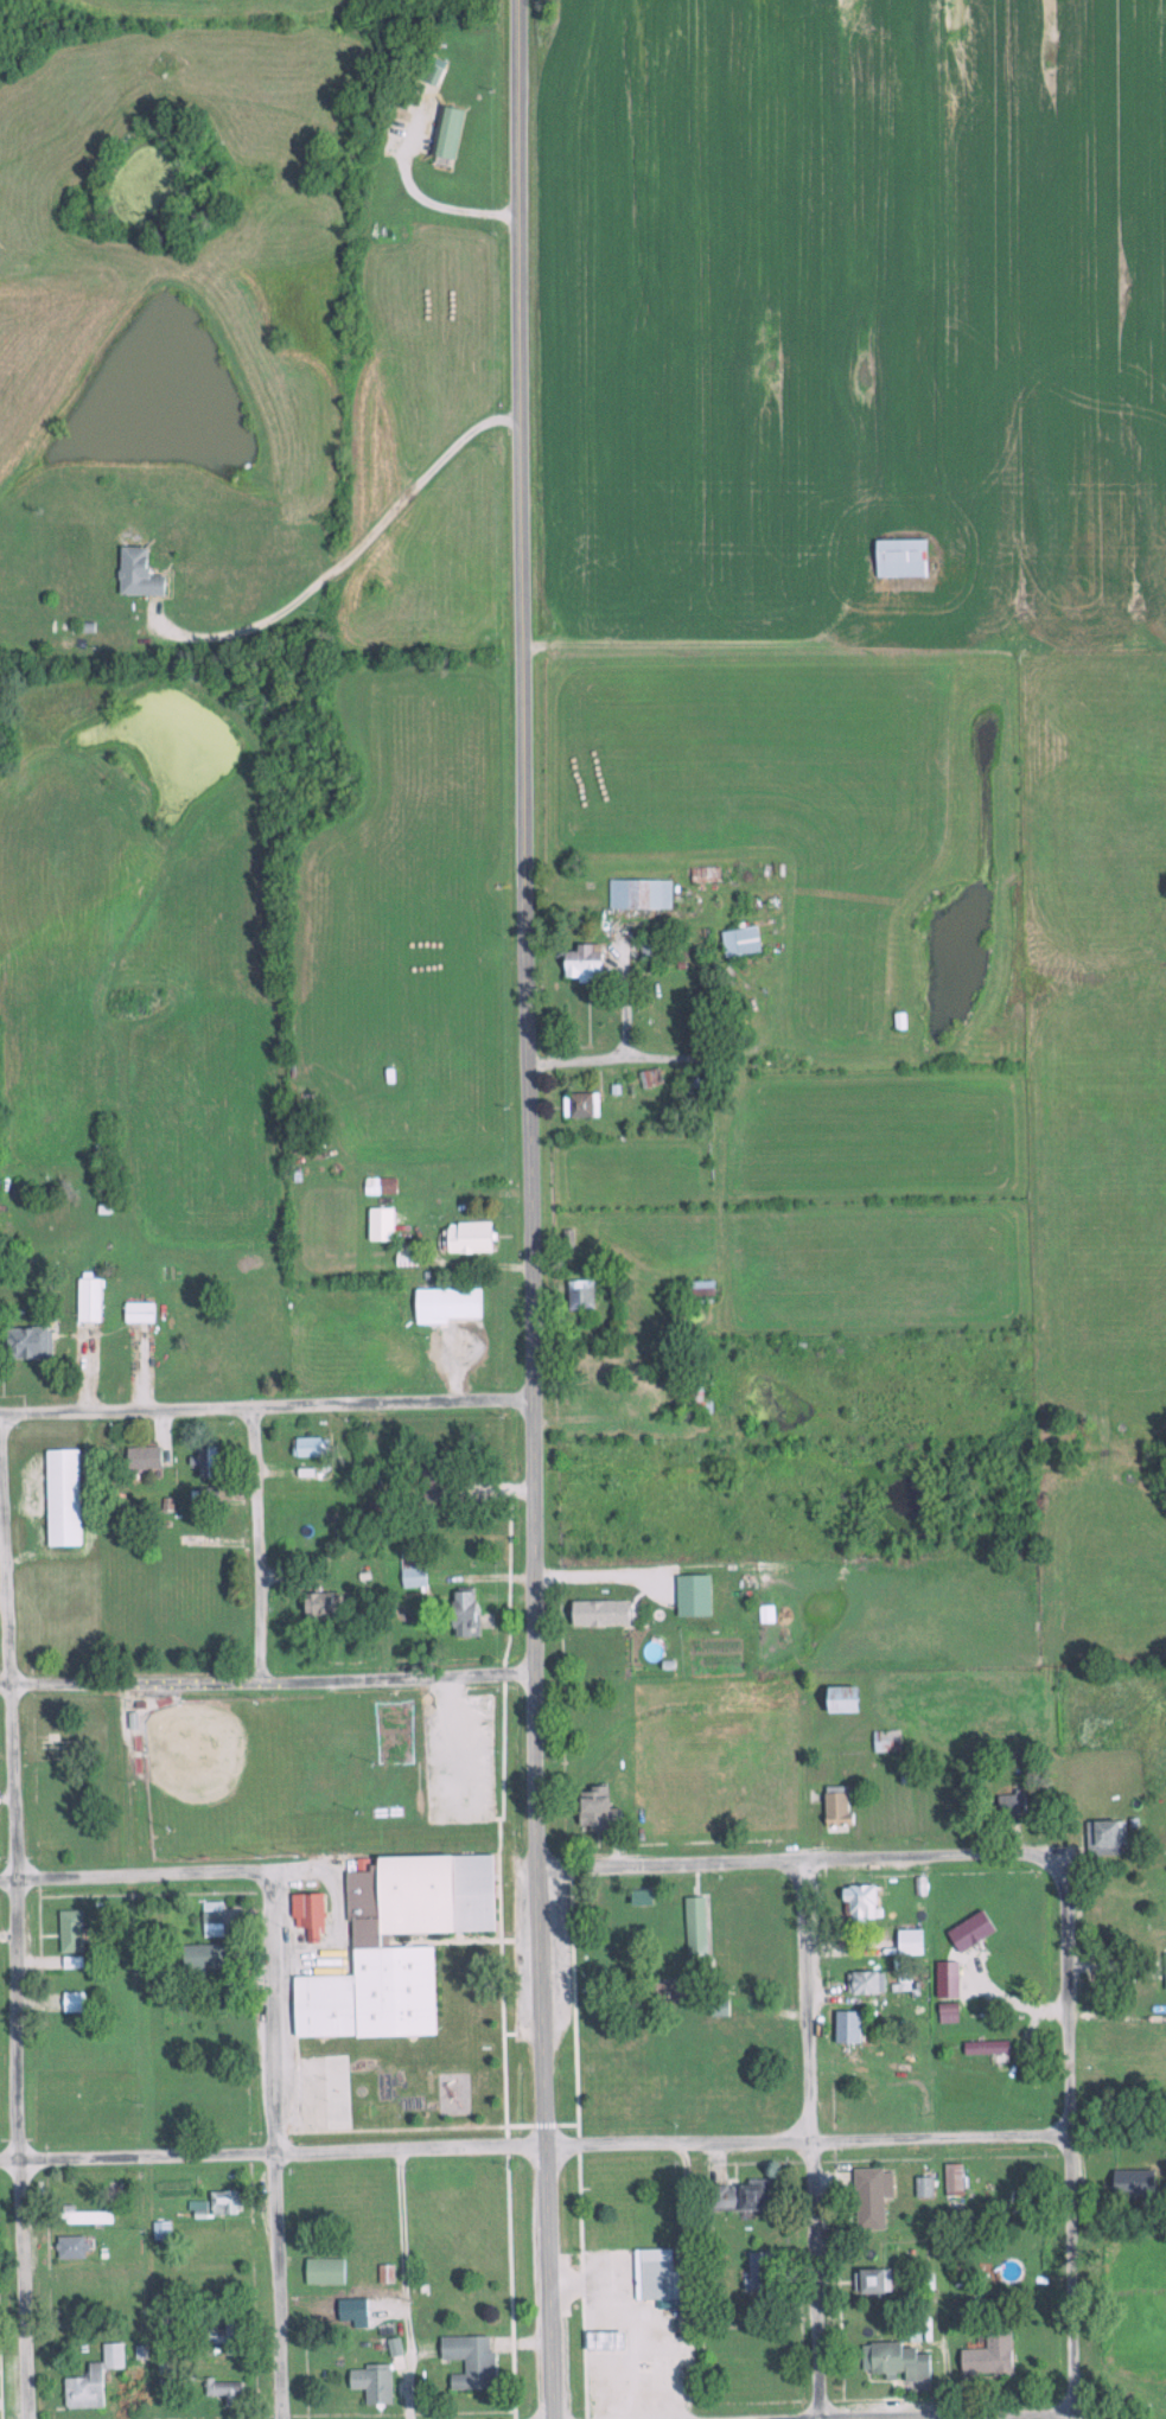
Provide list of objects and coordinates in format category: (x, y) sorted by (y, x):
building: (431, 70)
building: (446, 132)
road: (522, 345)
building: (896, 557)
building: (134, 574)
building: (638, 893)
building: (738, 942)
building: (578, 963)
building: (896, 1020)
building: (578, 1105)
building: (383, 1186)
building: (463, 1237)
building: (563, 1239)
building: (403, 1255)
building: (697, 1288)
building: (576, 1294)
building: (85, 1300)
building: (453, 1303)
building: (134, 1311)
building: (24, 1342)
building: (699, 1380)
building: (603, 1384)
road: (265, 1405)
building: (307, 1447)
building: (139, 1459)
building: (202, 1462)
building: (431, 1486)
building: (202, 1496)
building: (59, 1498)
road: (254, 1542)
road: (531, 1555)
building: (409, 1572)
building: (690, 1596)
building: (314, 1608)
building: (459, 1613)
building: (595, 1614)
road: (266, 1677)
building: (834, 1700)
building: (884, 1741)
building: (1009, 1800)
building: (832, 1810)
building: (593, 1811)
building: (760, 1815)
building: (62, 1824)
building: (1100, 1837)
road: (804, 1858)
road: (134, 1875)
building: (641, 1894)
building: (856, 1906)
building: (306, 1916)
building: (211, 1925)
building: (693, 1927)
building: (68, 1932)
building: (361, 1941)
road: (15, 1952)
building: (197, 1957)
building: (1164, 1972)
building: (1003, 1973)
building: (861, 1984)
building: (74, 2002)
building: (715, 2008)
building: (843, 2028)
building: (202, 2102)
building: (63, 2106)
road: (807, 2139)
road: (272, 2145)
road: (1071, 2145)
road: (144, 2146)
road: (535, 2147)
building: (1129, 2182)
building: (185, 2183)
building: (609, 2185)
building: (920, 2187)
building: (113, 2188)
building: (739, 2195)
building: (868, 2196)
building: (222, 2202)
building: (83, 2216)
building: (159, 2230)
building: (214, 2241)
building: (69, 2246)
building: (758, 2270)
building: (323, 2271)
building: (384, 2273)
building: (652, 2274)
building: (62, 2278)
road: (941, 2278)
building: (871, 2279)
road: (686, 2281)
road: (404, 2285)
building: (356, 2311)
building: (217, 2332)
building: (393, 2347)
building: (985, 2353)
building: (467, 2360)
building: (893, 2360)
building: (370, 2382)
building: (221, 2387)
building: (83, 2388)
road: (988, 2417)

